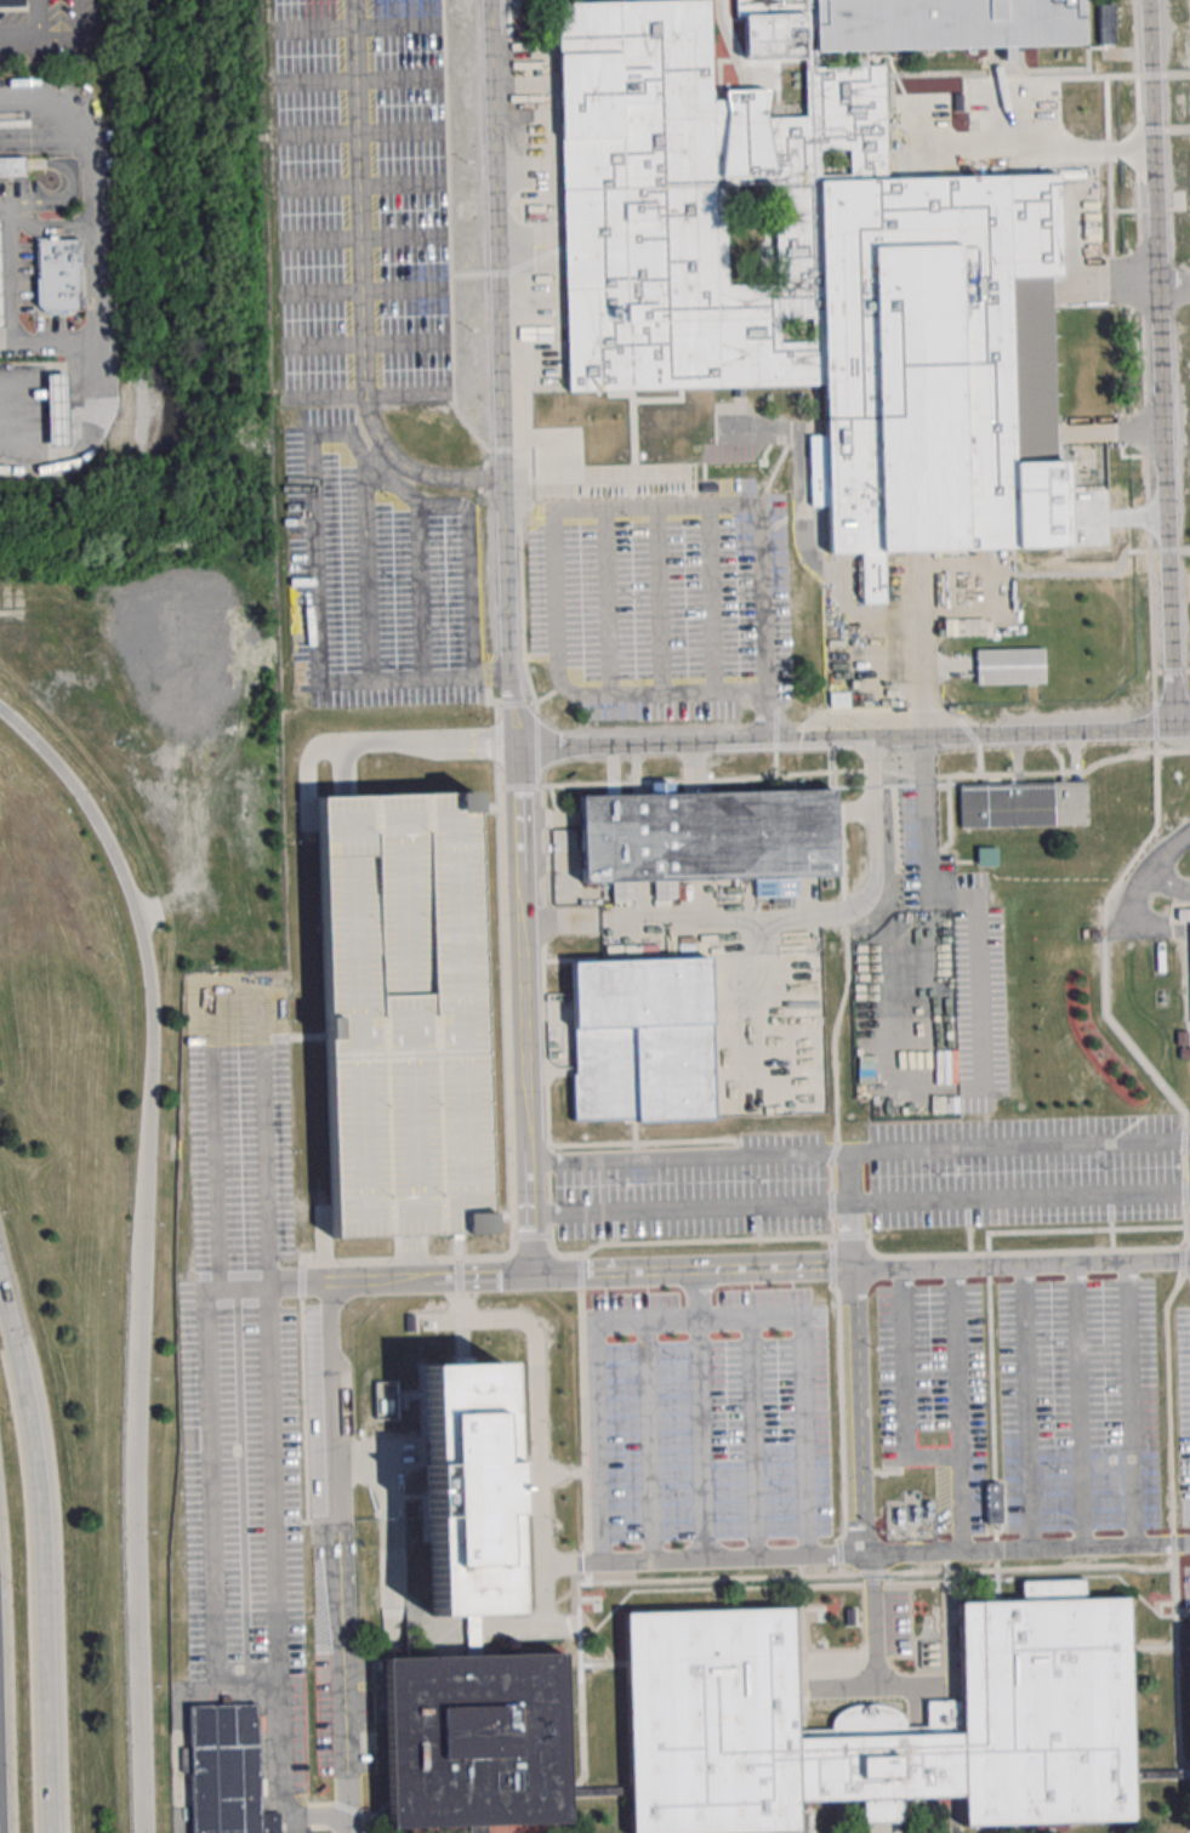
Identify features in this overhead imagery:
building: (12, 5)
building: (1105, 24)
road: (30, 30)
building: (12, 164)
parking lot: (361, 201)
road: (50, 224)
building: (813, 252)
road: (11, 271)
building: (57, 273)
road: (98, 275)
building: (1, 278)
road: (1174, 285)
road: (361, 289)
road: (51, 343)
road: (1161, 364)
road: (501, 371)
building: (57, 408)
road: (558, 510)
road: (469, 541)
road: (368, 562)
parking lot: (376, 576)
road: (421, 591)
road: (712, 598)
road: (660, 599)
road: (608, 602)
parking lot: (662, 602)
road: (317, 613)
building: (1009, 665)
building: (838, 699)
road: (768, 716)
road: (852, 738)
road: (428, 744)
road: (345, 769)
road: (307, 774)
building: (1024, 804)
building: (708, 832)
building: (986, 855)
road: (1148, 872)
road: (1168, 883)
road: (778, 915)
building: (1183, 915)
road: (930, 1007)
road: (524, 1008)
road: (980, 1008)
building: (402, 1015)
parking garage: (402, 1015)
building: (644, 1038)
road: (859, 1150)
parking lot: (1024, 1171)
parking lot: (696, 1189)
road: (859, 1202)
road: (850, 1209)
road: (266, 1222)
road: (323, 1242)
road: (138, 1252)
road: (410, 1257)
road: (1020, 1265)
road: (693, 1270)
road: (405, 1279)
road: (241, 1288)
road: (460, 1299)
road: (698, 1320)
parking lot: (240, 1340)
road: (905, 1389)
parking lot: (936, 1395)
building: (385, 1400)
road: (1132, 1404)
parking lot: (1080, 1406)
road: (1080, 1406)
parking lot: (1184, 1406)
road: (1027, 1407)
road: (861, 1410)
road: (958, 1410)
road: (701, 1413)
parking lot: (707, 1416)
road: (753, 1438)
road: (649, 1441)
building: (467, 1490)
building: (993, 1503)
road: (210, 1516)
building: (910, 1519)
road: (866, 1553)
road: (42, 1555)
road: (340, 1556)
road: (543, 1601)
road: (875, 1619)
building: (1046, 1673)
road: (876, 1686)
building: (476, 1741)
building: (228, 1771)
road: (309, 1816)

